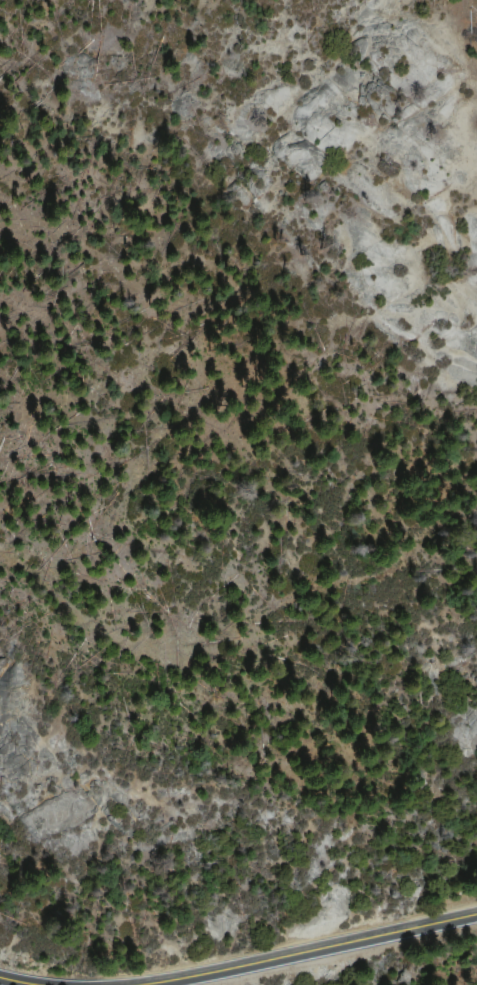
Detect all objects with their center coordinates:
road: (307, 951)
road: (22, 980)

